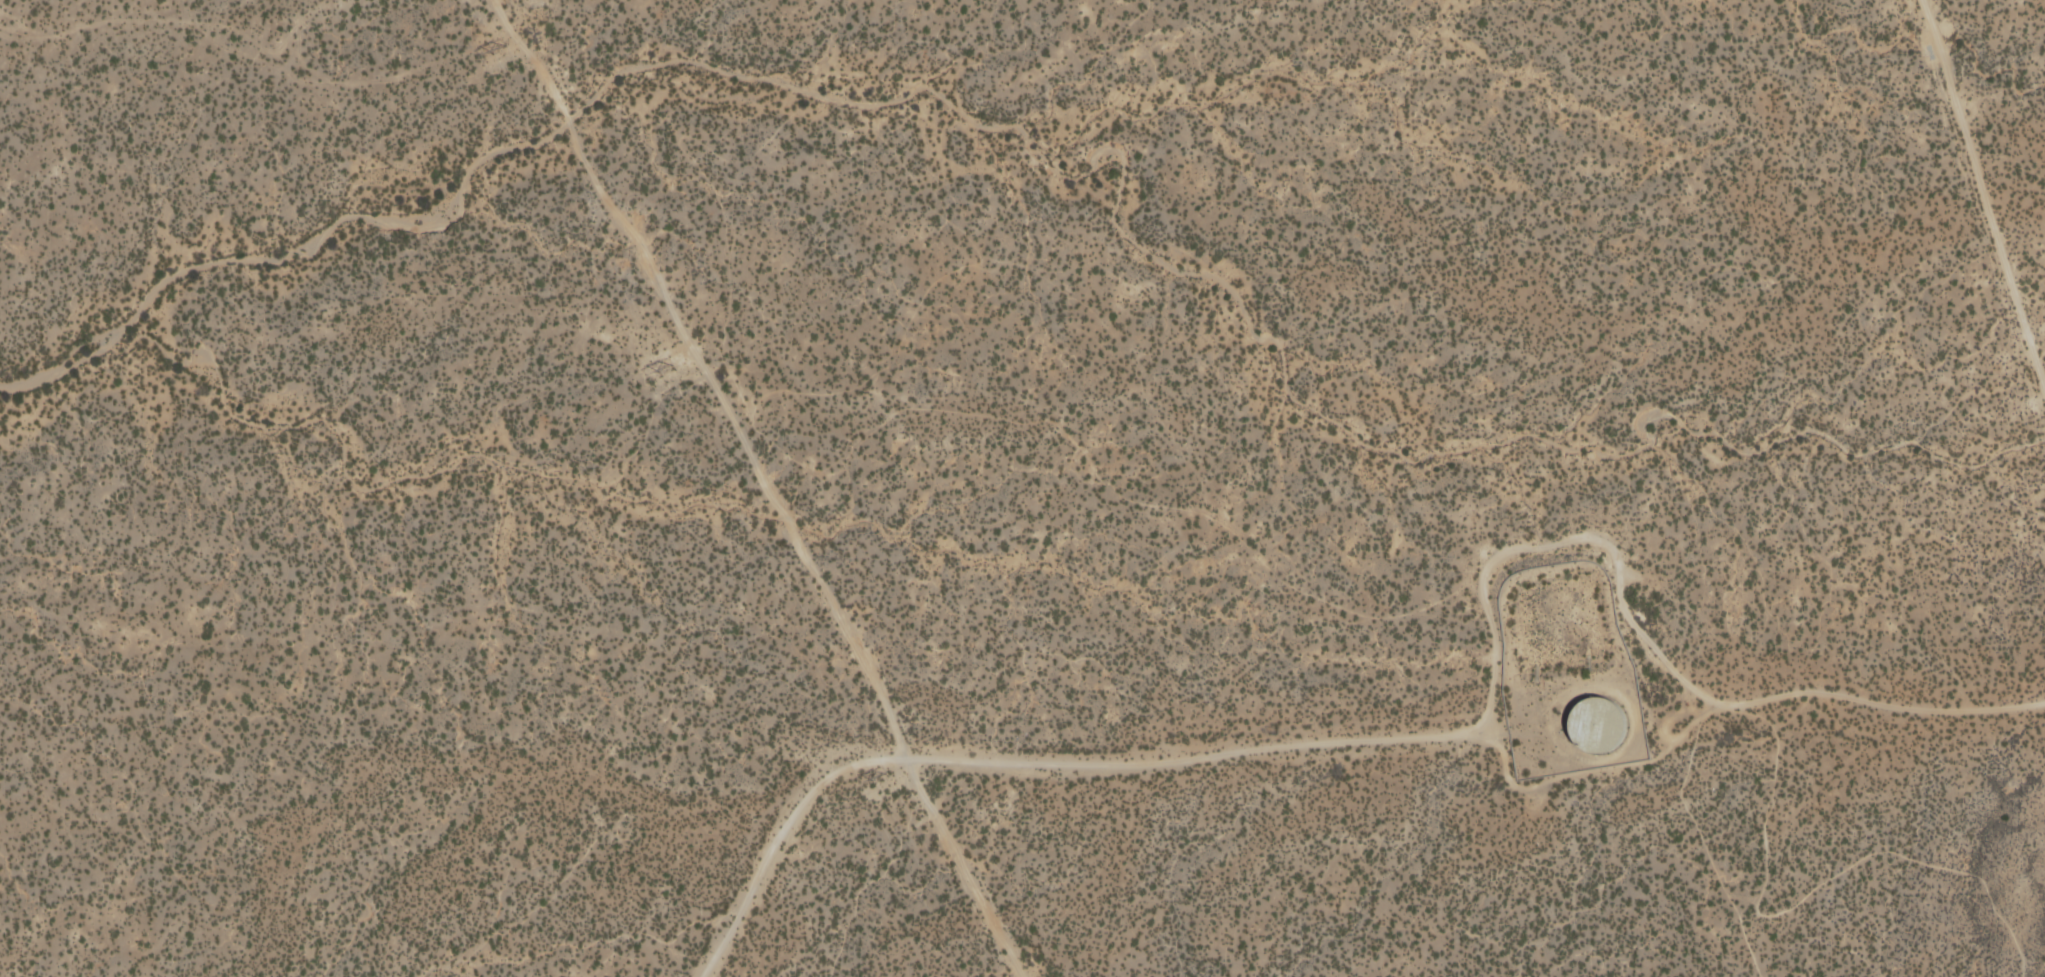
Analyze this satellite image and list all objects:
power tower: (498, 49)
road: (1983, 197)
power tower: (665, 368)
road: (706, 372)
road: (1646, 650)
water tower: (1598, 722)
building: (1604, 725)
road: (1487, 732)
road: (1188, 757)
road: (1596, 772)
power tower: (879, 774)
road: (777, 839)
road: (959, 867)
road: (1802, 897)

